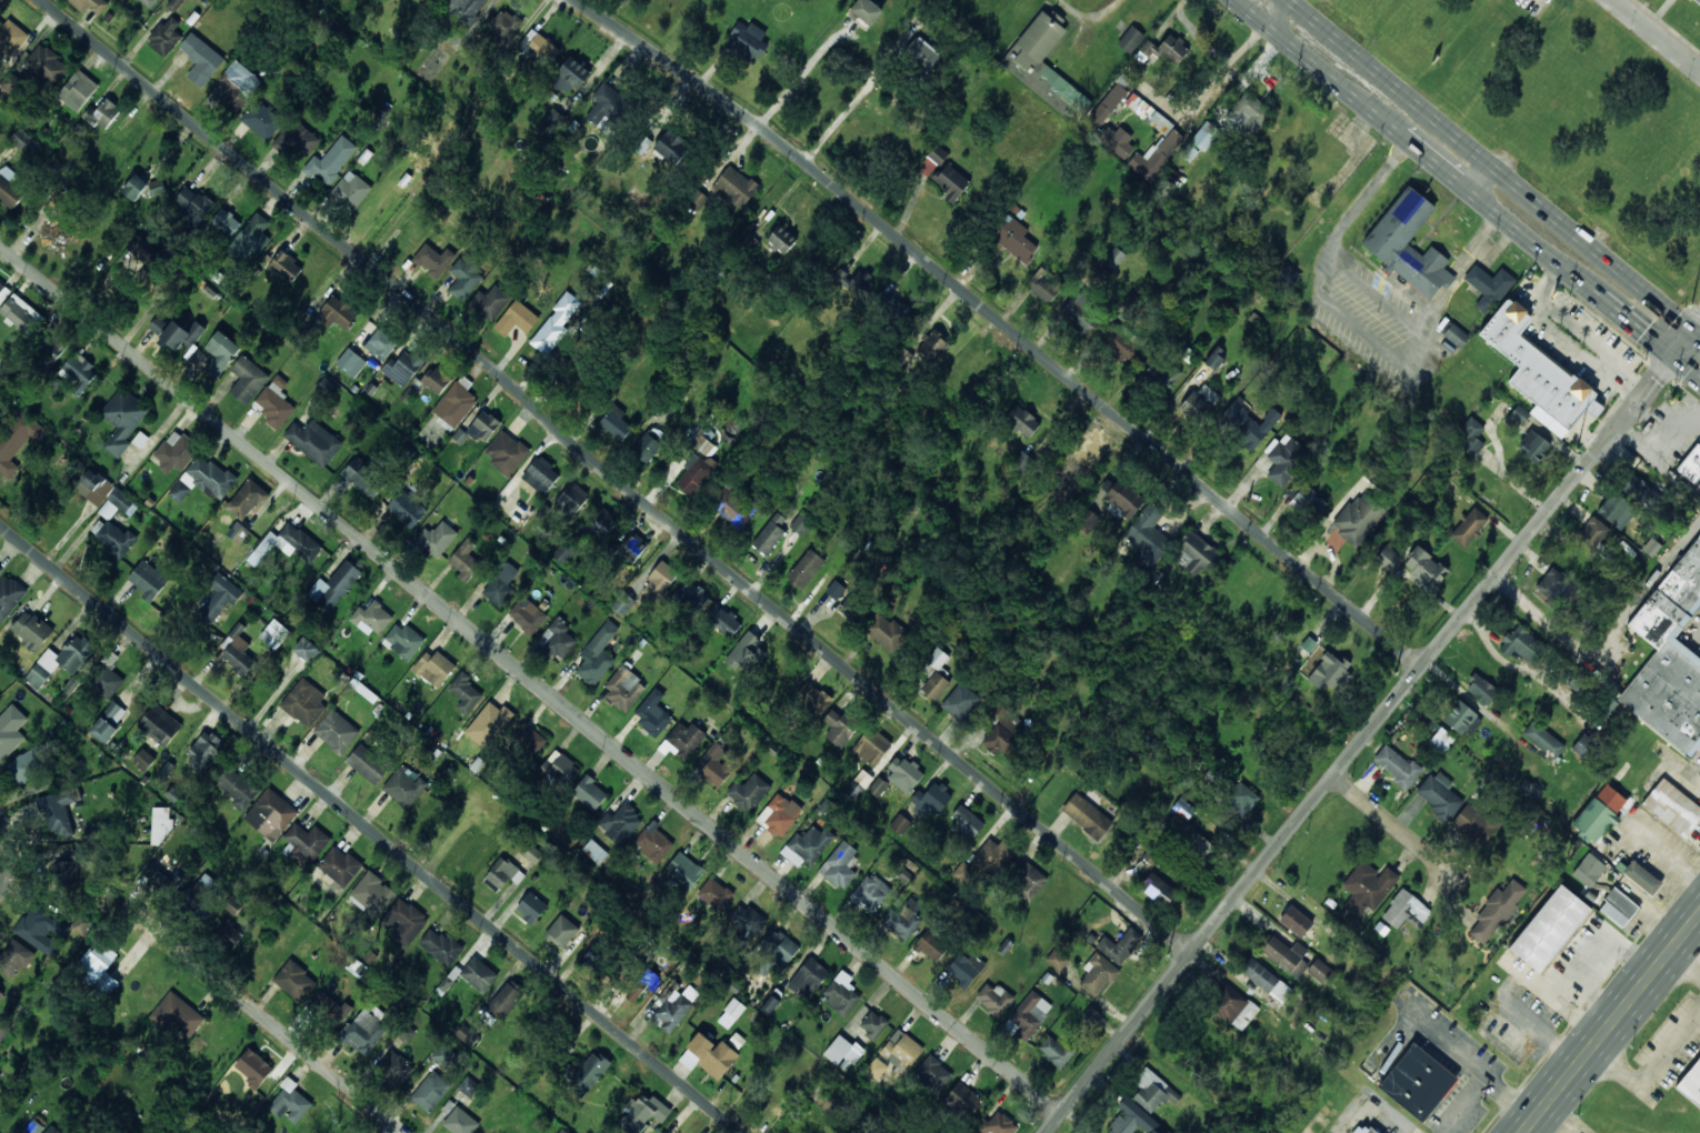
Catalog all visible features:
building: (663, 0)
building: (148, 2)
building: (1697, 2)
building: (91, 4)
building: (174, 4)
building: (466, 9)
building: (867, 11)
building: (503, 27)
building: (166, 37)
building: (12, 38)
building: (1131, 39)
building: (750, 40)
building: (538, 48)
building: (1167, 49)
building: (922, 53)
building: (201, 59)
building: (47, 64)
road: (801, 74)
building: (570, 77)
building: (238, 86)
building: (78, 90)
road: (857, 98)
building: (1109, 103)
building: (606, 107)
building: (1252, 111)
building: (102, 113)
building: (1148, 113)
building: (261, 119)
building: (1206, 136)
building: (299, 140)
building: (26, 142)
building: (1118, 142)
road: (1422, 143)
building: (671, 149)
building: (1156, 157)
building: (331, 160)
building: (932, 160)
road: (1491, 161)
building: (950, 181)
building: (10, 187)
building: (734, 187)
building: (134, 188)
building: (351, 191)
building: (193, 204)
building: (226, 223)
building: (1399, 225)
building: (58, 233)
building: (250, 239)
building: (782, 239)
building: (1012, 239)
building: (146, 253)
building: (1114, 258)
building: (433, 260)
building: (282, 264)
building: (1289, 274)
building: (466, 278)
building: (852, 279)
building: (1044, 285)
building: (1489, 285)
building: (3, 292)
building: (490, 302)
building: (338, 313)
building: (1081, 313)
building: (22, 314)
road: (1634, 318)
building: (517, 319)
road: (1697, 320)
building: (556, 323)
building: (158, 324)
road: (1003, 324)
road: (1697, 327)
traffic signals: (1647, 328)
building: (182, 334)
road: (1683, 337)
building: (1453, 339)
building: (381, 343)
building: (1120, 344)
building: (934, 345)
building: (49, 349)
building: (221, 353)
building: (1214, 359)
road: (1687, 360)
building: (351, 362)
building: (403, 368)
building: (78, 372)
building: (1539, 373)
building: (1159, 377)
traffic signals: (1650, 378)
building: (437, 379)
building: (248, 380)
building: (328, 388)
road: (1634, 395)
building: (457, 402)
building: (1199, 402)
building: (276, 403)
building: (1520, 414)
building: (123, 419)
building: (1023, 421)
building: (616, 423)
building: (1248, 424)
building: (484, 427)
building: (1470, 437)
building: (16, 438)
building: (702, 440)
building: (314, 441)
building: (648, 447)
building: (1533, 447)
building: (176, 452)
building: (506, 452)
building: (1283, 458)
building: (1023, 462)
building: (1691, 464)
building: (1081, 465)
building: (696, 473)
road: (609, 474)
building: (541, 475)
building: (364, 478)
building: (203, 480)
building: (99, 485)
building: (1638, 489)
building: (1122, 497)
building: (246, 499)
building: (572, 499)
building: (1309, 501)
building: (118, 504)
building: (733, 507)
building: (407, 509)
building: (1617, 510)
building: (1088, 521)
building: (1356, 521)
building: (801, 523)
building: (602, 525)
building: (1469, 527)
building: (239, 532)
building: (1592, 533)
building: (770, 534)
building: (112, 537)
building: (1148, 537)
building: (436, 539)
building: (288, 544)
building: (633, 547)
building: (1651, 548)
building: (563, 553)
building: (1197, 553)
building: (1388, 558)
building: (464, 560)
building: (1426, 568)
building: (807, 569)
building: (1, 570)
building: (662, 576)
building: (149, 579)
building: (500, 584)
building: (334, 585)
building: (1557, 588)
building: (836, 590)
building: (9, 595)
building: (693, 598)
building: (217, 600)
building: (622, 603)
building: (853, 609)
building: (527, 615)
building: (372, 616)
building: (723, 620)
building: (31, 630)
building: (274, 633)
building: (887, 633)
building: (558, 639)
building: (403, 641)
building: (1521, 644)
building: (307, 650)
building: (238, 653)
building: (598, 654)
building: (746, 654)
building: (1670, 658)
building: (60, 661)
building: (934, 662)
building: (434, 668)
building: (1330, 671)
building: (107, 676)
road: (529, 678)
building: (934, 685)
building: (624, 689)
building: (1481, 690)
building: (466, 693)
building: (813, 699)
building: (304, 702)
building: (960, 702)
building: (653, 713)
building: (1463, 719)
building: (108, 723)
building: (489, 724)
building: (159, 726)
building: (840, 728)
building: (1002, 730)
building: (10, 731)
building: (337, 731)
building: (684, 739)
building: (529, 740)
building: (1543, 740)
building: (872, 746)
building: (1583, 746)
building: (204, 751)
building: (143, 760)
building: (368, 763)
building: (714, 764)
building: (1397, 765)
building: (26, 766)
building: (560, 770)
building: (904, 774)
building: (858, 785)
building: (878, 786)
building: (238, 788)
building: (404, 788)
road: (1319, 788)
building: (1530, 790)
building: (749, 792)
building: (590, 793)
building: (1440, 795)
building: (1242, 799)
building: (931, 800)
building: (1672, 808)
building: (1183, 809)
building: (60, 812)
building: (1600, 812)
building: (271, 814)
building: (779, 814)
building: (1087, 815)
road: (1381, 815)
building: (621, 823)
building: (966, 823)
building: (900, 824)
building: (1474, 824)
building: (160, 825)
road: (370, 832)
building: (654, 842)
building: (304, 843)
building: (1199, 844)
building: (807, 846)
road: (11, 851)
building: (533, 854)
building: (993, 854)
road: (1456, 859)
building: (340, 865)
building: (840, 865)
building: (67, 866)
building: (1589, 870)
building: (683, 872)
building: (502, 874)
building: (1642, 878)
building: (1028, 881)
building: (1368, 888)
building: (1159, 890)
building: (870, 893)
building: (714, 894)
building: (372, 895)
building: (531, 908)
building: (1619, 908)
building: (1406, 911)
building: (1497, 911)
building: (903, 919)
building: (403, 921)
building: (747, 921)
building: (1297, 921)
building: (82, 923)
building: (1550, 929)
building: (42, 930)
building: (561, 931)
building: (931, 945)
building: (1120, 945)
building: (440, 946)
building: (776, 952)
building: (1287, 955)
building: (16, 957)
building: (592, 957)
building: (1057, 960)
building: (100, 966)
building: (966, 969)
building: (1320, 971)
building: (476, 974)
building: (1099, 974)
building: (809, 977)
building: (294, 981)
building: (1267, 982)
building: (841, 994)
building: (1, 995)
building: (507, 997)
building: (994, 999)
building: (771, 1004)
building: (1233, 1006)
building: (331, 1007)
building: (734, 1007)
building: (674, 1010)
building: (178, 1015)
building: (1030, 1015)
building: (1090, 1016)
road: (1611, 1022)
building: (873, 1024)
building: (2, 1027)
building: (366, 1030)
road: (276, 1032)
building: (467, 1035)
building: (843, 1051)
building: (1054, 1051)
building: (443, 1054)
building: (709, 1055)
building: (394, 1067)
building: (877, 1067)
building: (253, 1069)
building: (934, 1070)
building: (588, 1071)
building: (1418, 1082)
building: (1691, 1084)
building: (469, 1086)
building: (1152, 1090)
building: (430, 1092)
building: (963, 1100)
building: (290, 1102)
building: (643, 1112)
building: (1132, 1119)
building: (460, 1122)
building: (36, 1126)
building: (52, 1130)
building: (562, 1131)
building: (1371, 1131)
building: (662, 1132)

